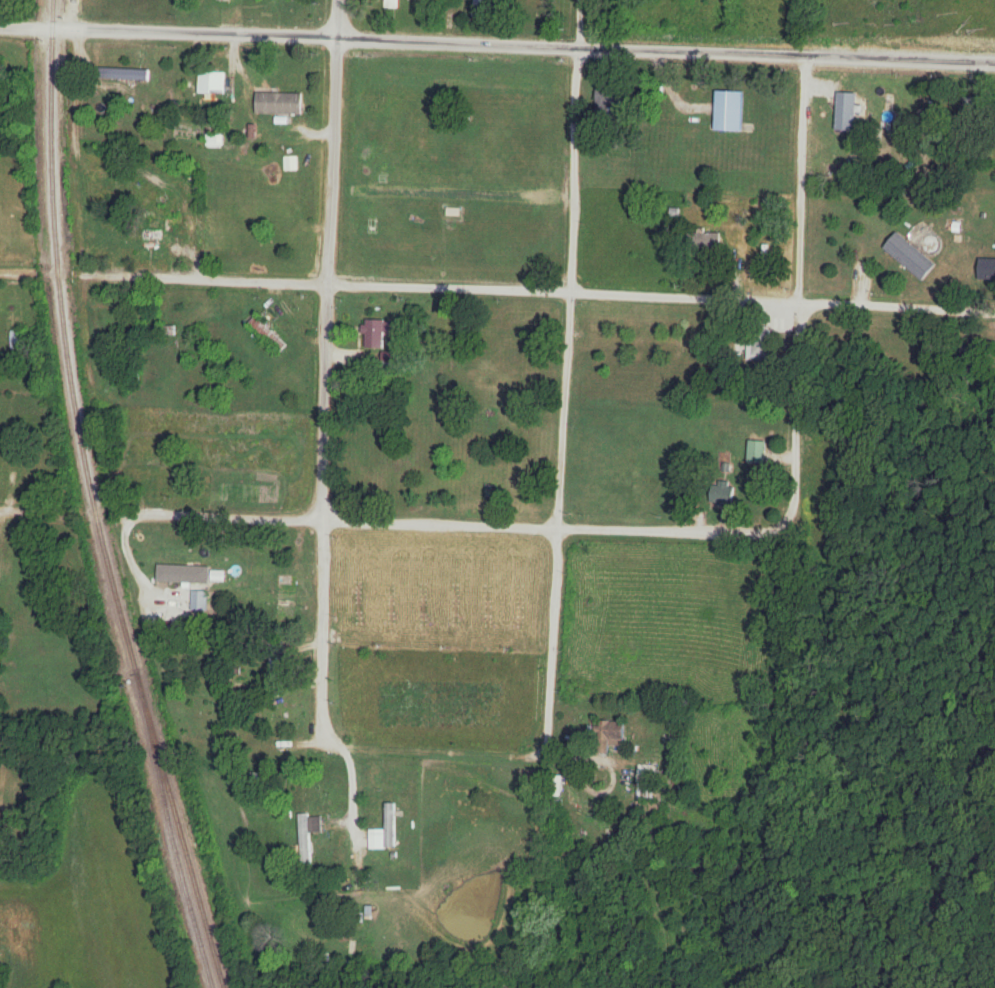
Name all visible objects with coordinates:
building: (269, 0)
building: (388, 4)
building: (483, 7)
road: (497, 42)
building: (124, 74)
building: (212, 83)
building: (279, 104)
building: (606, 104)
building: (730, 112)
building: (846, 112)
building: (118, 178)
building: (186, 188)
building: (151, 231)
building: (710, 244)
building: (771, 251)
building: (909, 257)
building: (985, 270)
road: (17, 271)
road: (531, 291)
road: (802, 294)
building: (268, 334)
building: (373, 334)
building: (17, 340)
building: (758, 348)
building: (220, 364)
road: (322, 366)
road: (564, 379)
building: (757, 452)
building: (723, 493)
railway: (91, 501)
road: (34, 511)
road: (452, 523)
building: (195, 575)
building: (219, 577)
building: (199, 601)
building: (359, 604)
building: (391, 606)
building: (611, 733)
road: (51, 744)
road: (576, 759)
road: (350, 778)
building: (647, 782)
building: (386, 832)
building: (308, 836)
railway: (170, 837)

